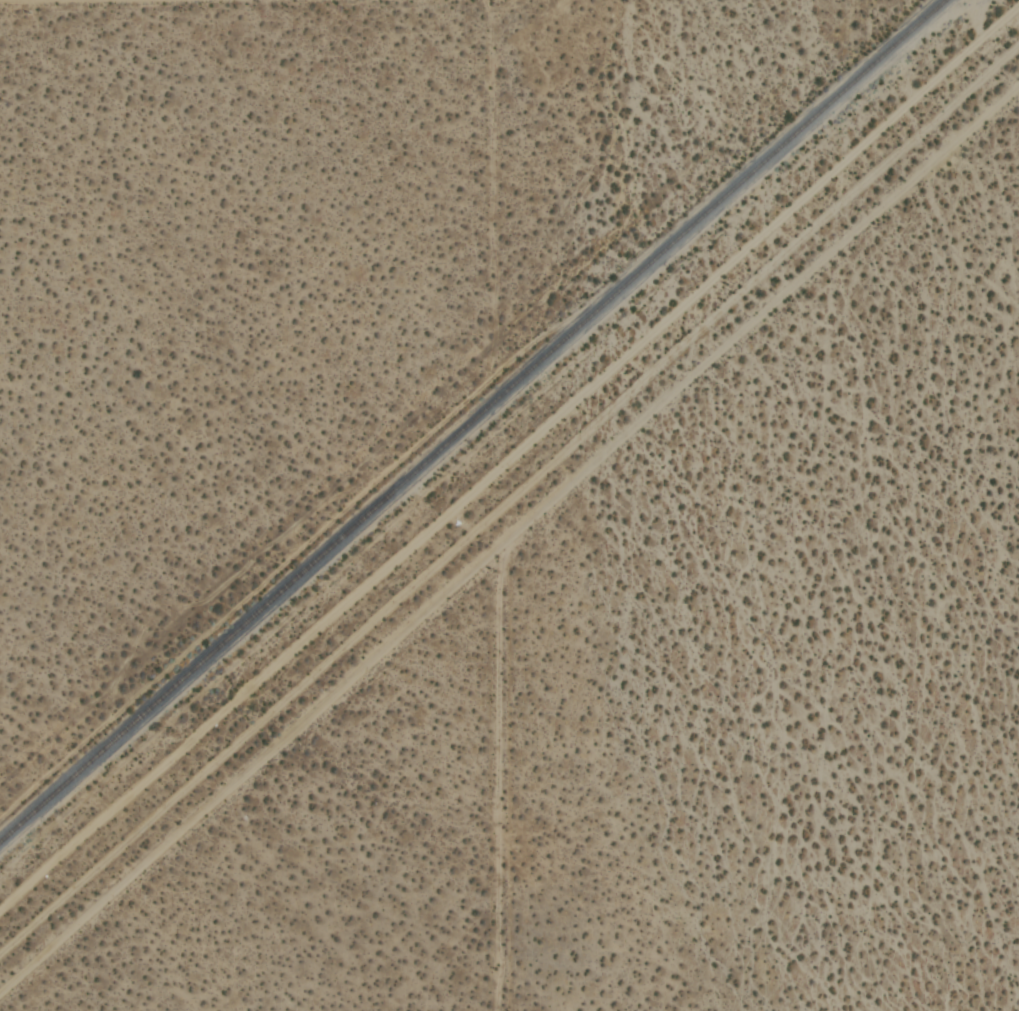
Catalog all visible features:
road: (38, 0)
road: (492, 155)
railway: (473, 422)
road: (509, 502)
road: (508, 540)
road: (494, 777)

